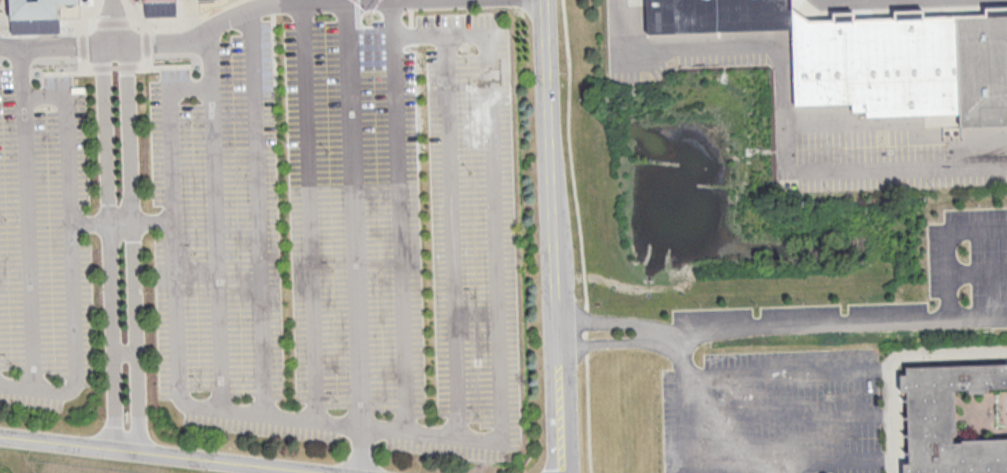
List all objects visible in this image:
building: (157, 0)
road: (858, 1)
building: (37, 8)
road: (113, 21)
road: (114, 23)
road: (177, 26)
road: (58, 28)
road: (209, 31)
building: (873, 58)
road: (169, 65)
road: (116, 69)
road: (63, 71)
road: (786, 114)
road: (257, 212)
road: (311, 212)
road: (354, 213)
road: (152, 221)
road: (120, 222)
road: (88, 223)
road: (399, 232)
road: (69, 233)
road: (451, 234)
road: (555, 236)
road: (580, 236)
road: (27, 239)
parking lot: (347, 239)
road: (945, 243)
road: (108, 245)
road: (133, 246)
road: (218, 249)
parking lot: (46, 250)
road: (976, 271)
road: (833, 323)
road: (638, 326)
road: (628, 346)
road: (124, 353)
road: (896, 362)
road: (789, 372)
road: (790, 416)
road: (690, 422)
building: (952, 422)
road: (395, 428)
road: (360, 449)
road: (167, 454)
road: (792, 461)

